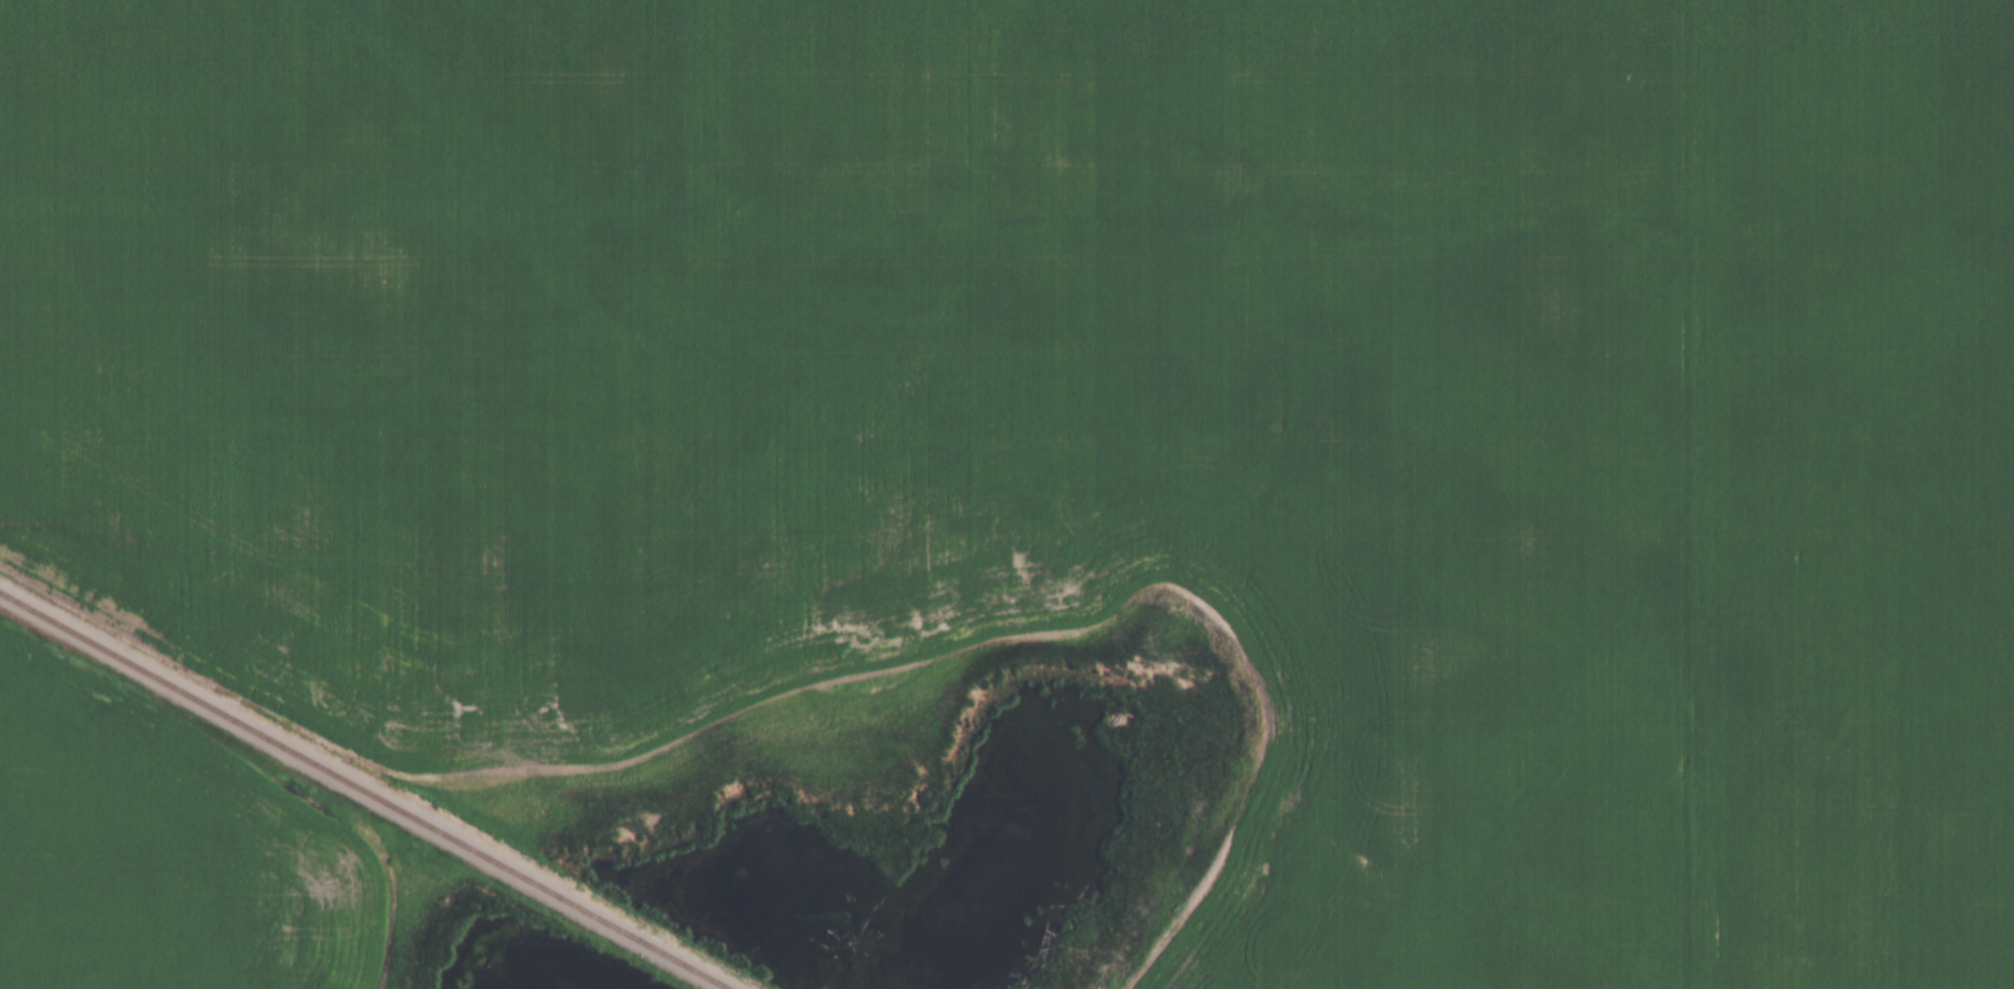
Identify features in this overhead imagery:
railway: (368, 788)

